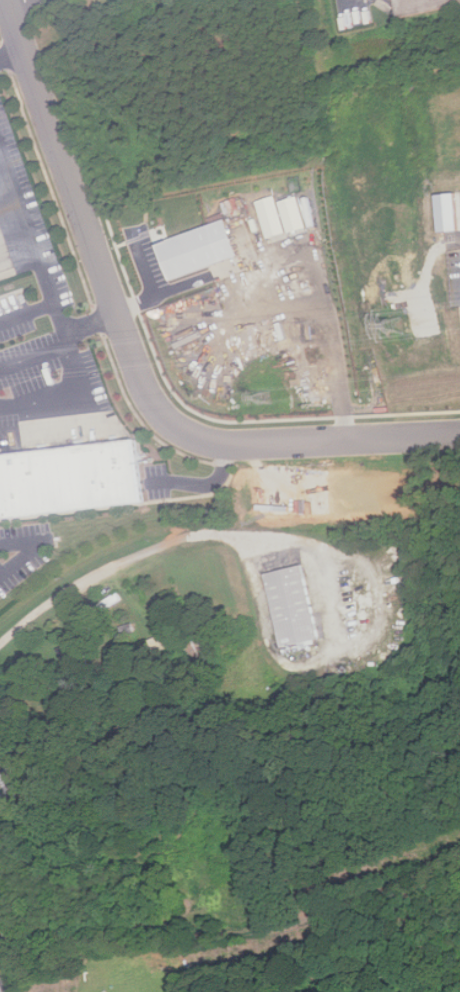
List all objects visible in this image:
road: (17, 3)
building: (427, 6)
road: (11, 55)
building: (450, 212)
building: (301, 214)
building: (203, 248)
road: (36, 253)
road: (154, 283)
road: (176, 289)
road: (90, 321)
power tower: (401, 330)
road: (66, 341)
road: (131, 353)
road: (33, 355)
power tower: (269, 397)
road: (43, 401)
building: (69, 480)
road: (202, 482)
road: (174, 540)
road: (35, 548)
building: (295, 606)
building: (75, 653)
building: (8, 779)
road: (4, 980)

